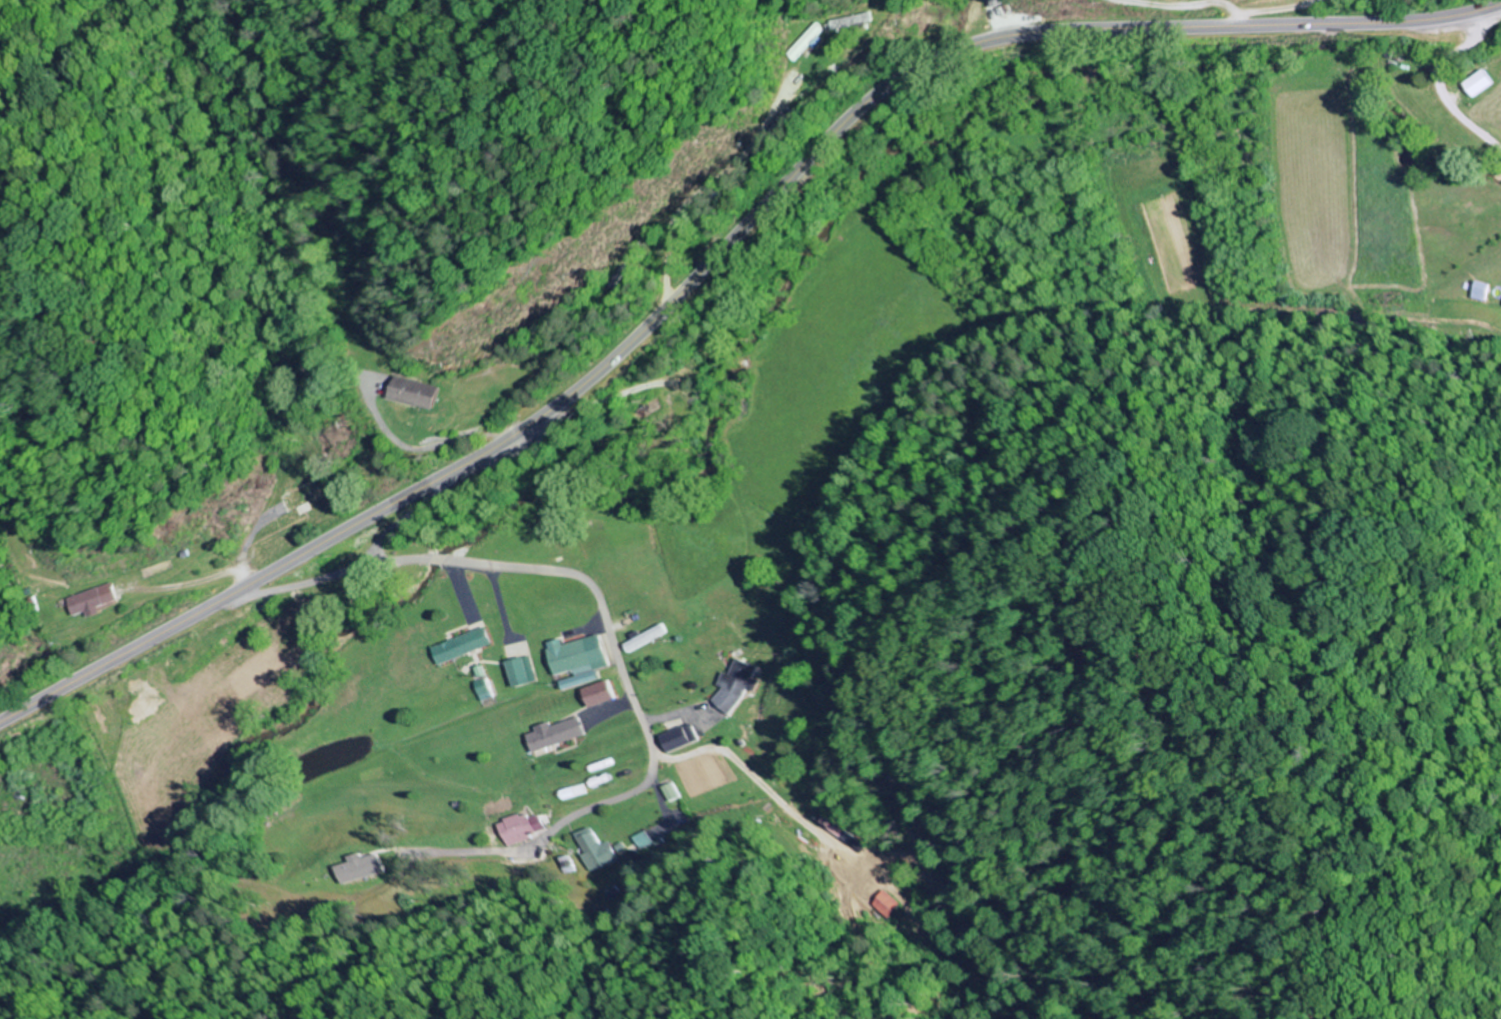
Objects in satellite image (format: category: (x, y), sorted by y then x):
road: (1186, 7)
road: (1299, 12)
building: (857, 21)
building: (812, 42)
road: (1438, 80)
building: (777, 139)
road: (717, 252)
building: (1480, 291)
building: (421, 392)
road: (556, 570)
building: (95, 600)
building: (646, 638)
building: (463, 646)
building: (580, 660)
building: (523, 671)
building: (738, 685)
building: (485, 690)
building: (601, 694)
building: (557, 734)
building: (680, 738)
building: (574, 792)
building: (667, 792)
building: (521, 828)
building: (593, 850)
building: (355, 868)
building: (882, 905)

